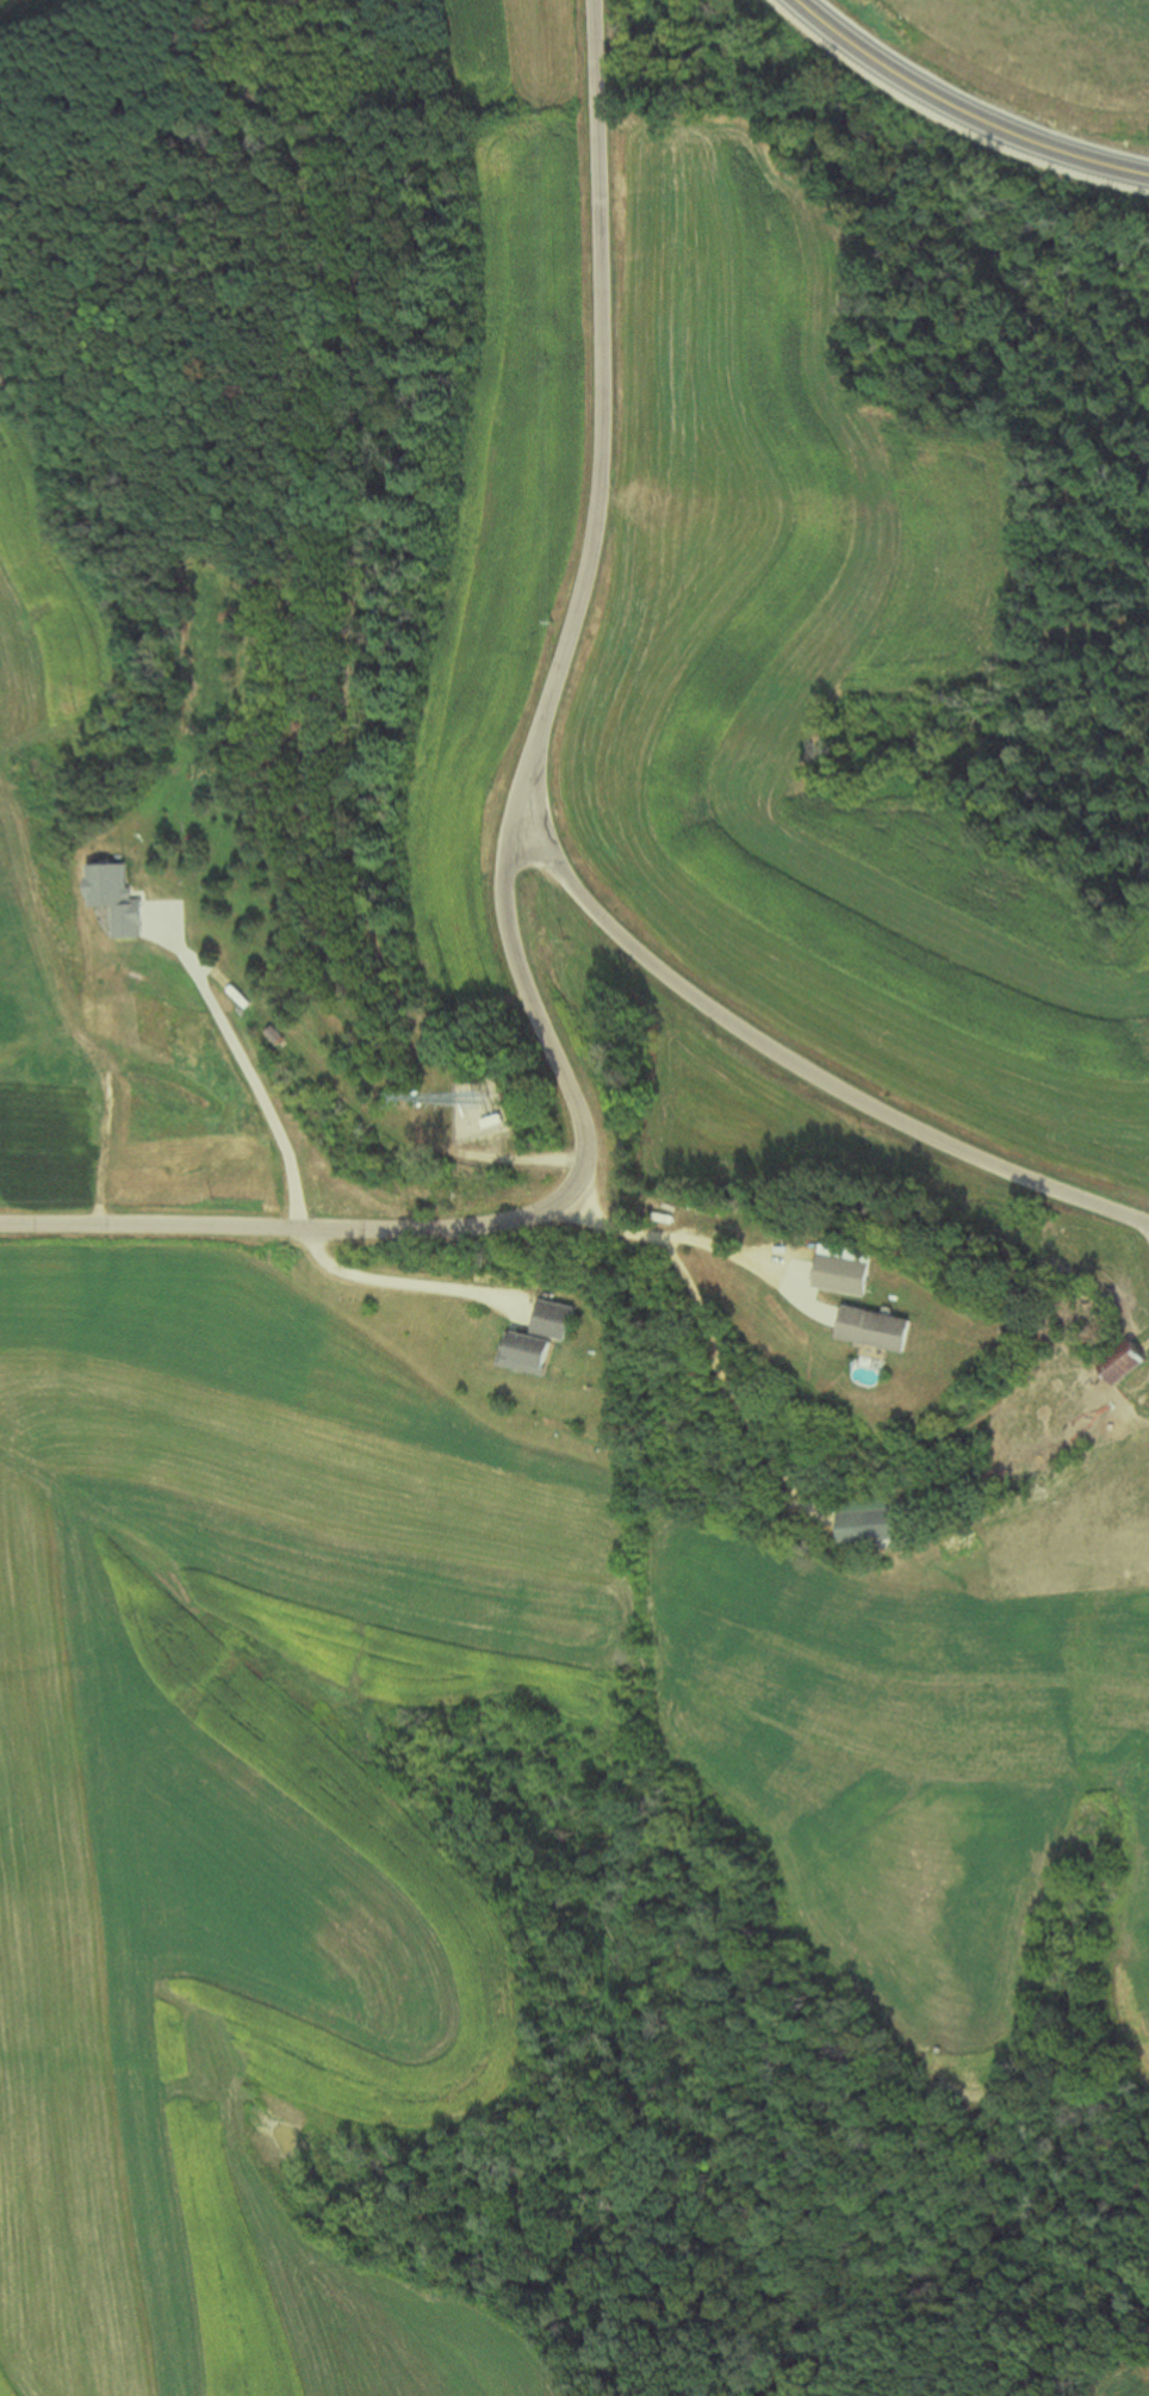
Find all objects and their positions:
road: (962, 107)
road: (504, 892)
road: (236, 1067)
road: (794, 1071)
road: (697, 1239)
road: (398, 1277)
road: (719, 1382)

